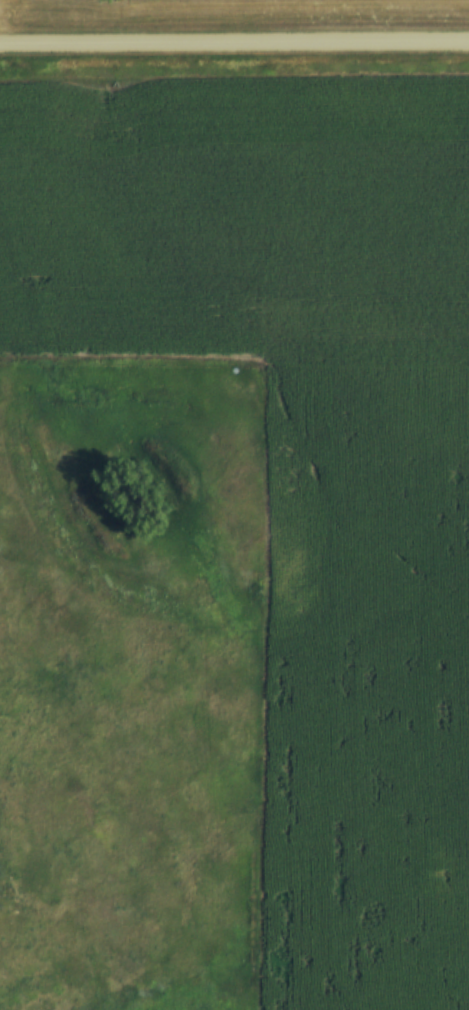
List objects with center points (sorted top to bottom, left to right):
road: (234, 40)
crop: (301, 450)

